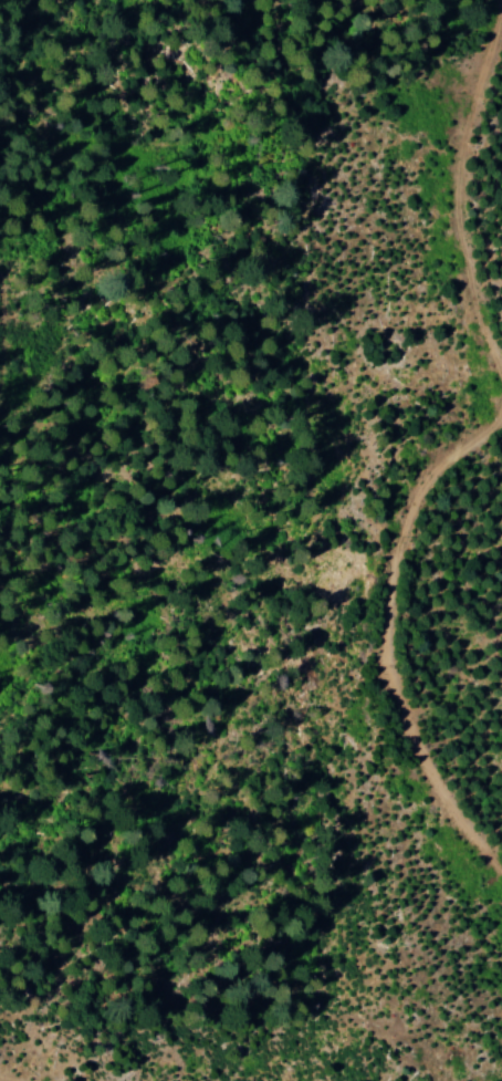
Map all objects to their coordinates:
road: (501, 907)

